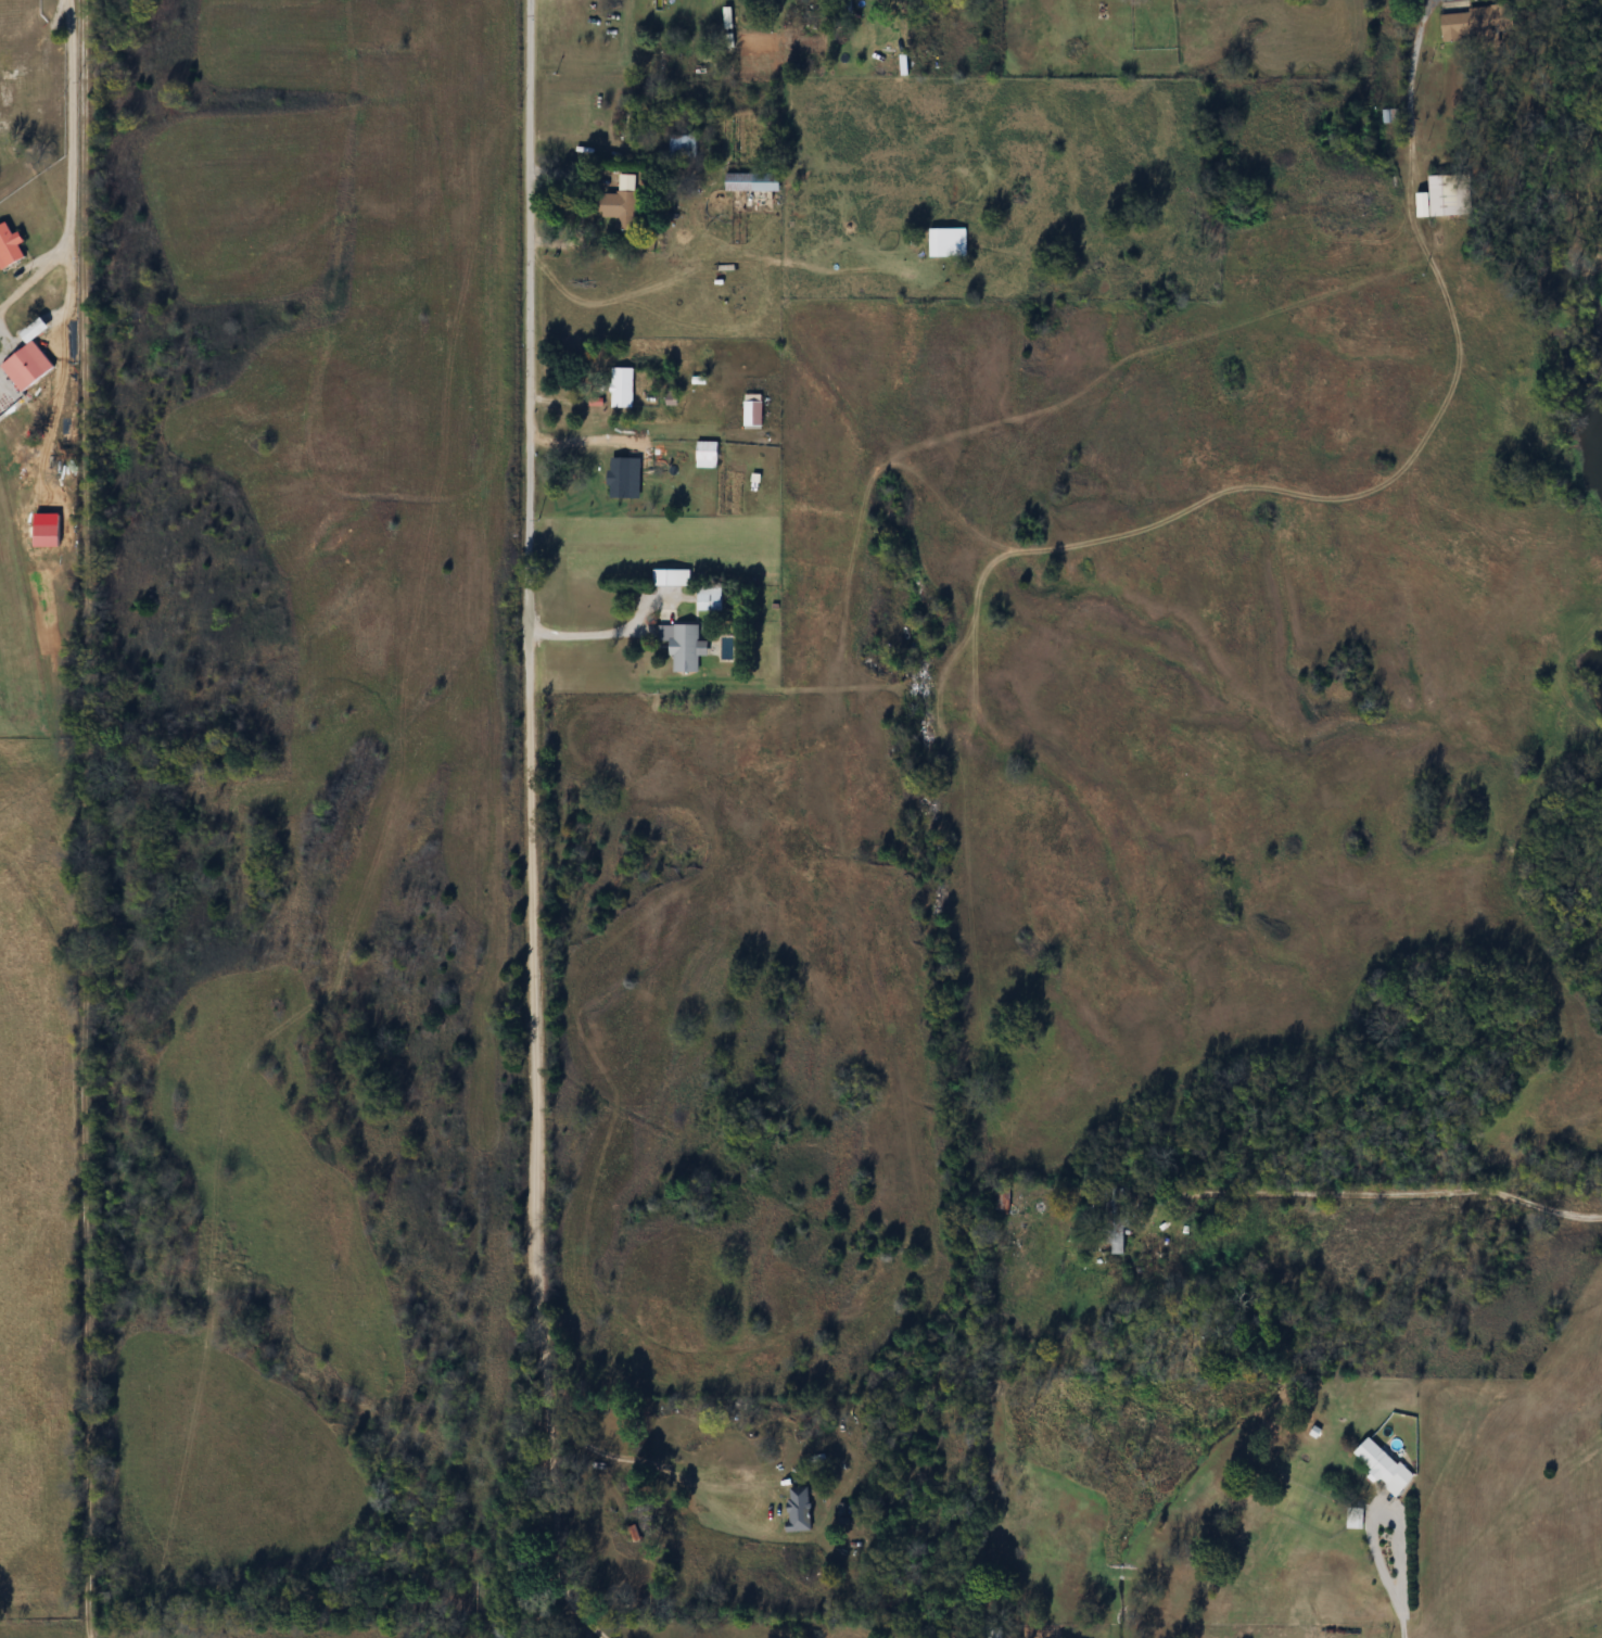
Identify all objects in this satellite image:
building: (842, 9)
building: (1471, 24)
building: (1391, 116)
building: (683, 145)
building: (752, 181)
building: (1442, 196)
building: (622, 204)
building: (10, 247)
building: (26, 366)
building: (622, 388)
building: (752, 410)
building: (707, 454)
building: (620, 477)
building: (671, 577)
building: (709, 598)
road: (598, 636)
building: (682, 646)
road: (534, 829)
road: (1385, 1192)
building: (1002, 1197)
building: (1114, 1219)
building: (1383, 1465)
building: (798, 1509)
building: (1355, 1518)
road: (1394, 1524)
road: (548, 1528)
road: (1401, 1611)

